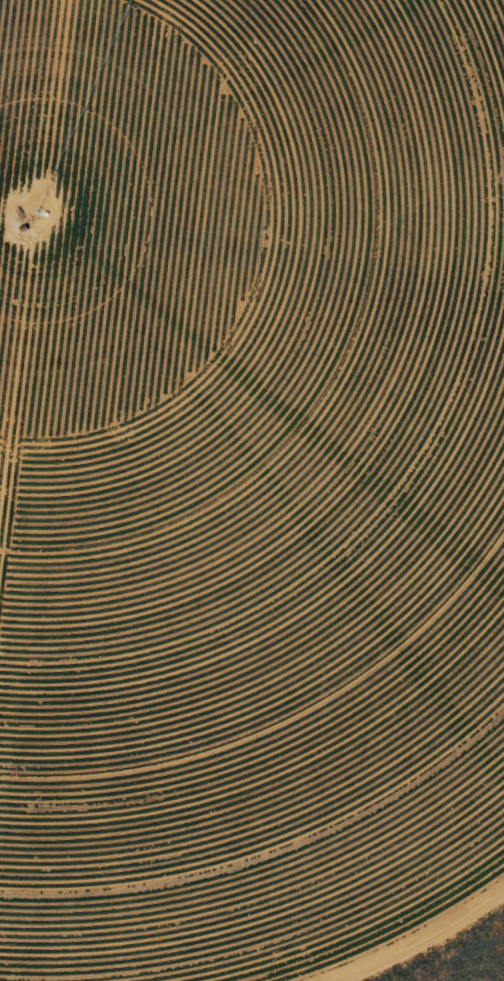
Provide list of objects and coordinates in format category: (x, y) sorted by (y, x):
road: (76, 829)

